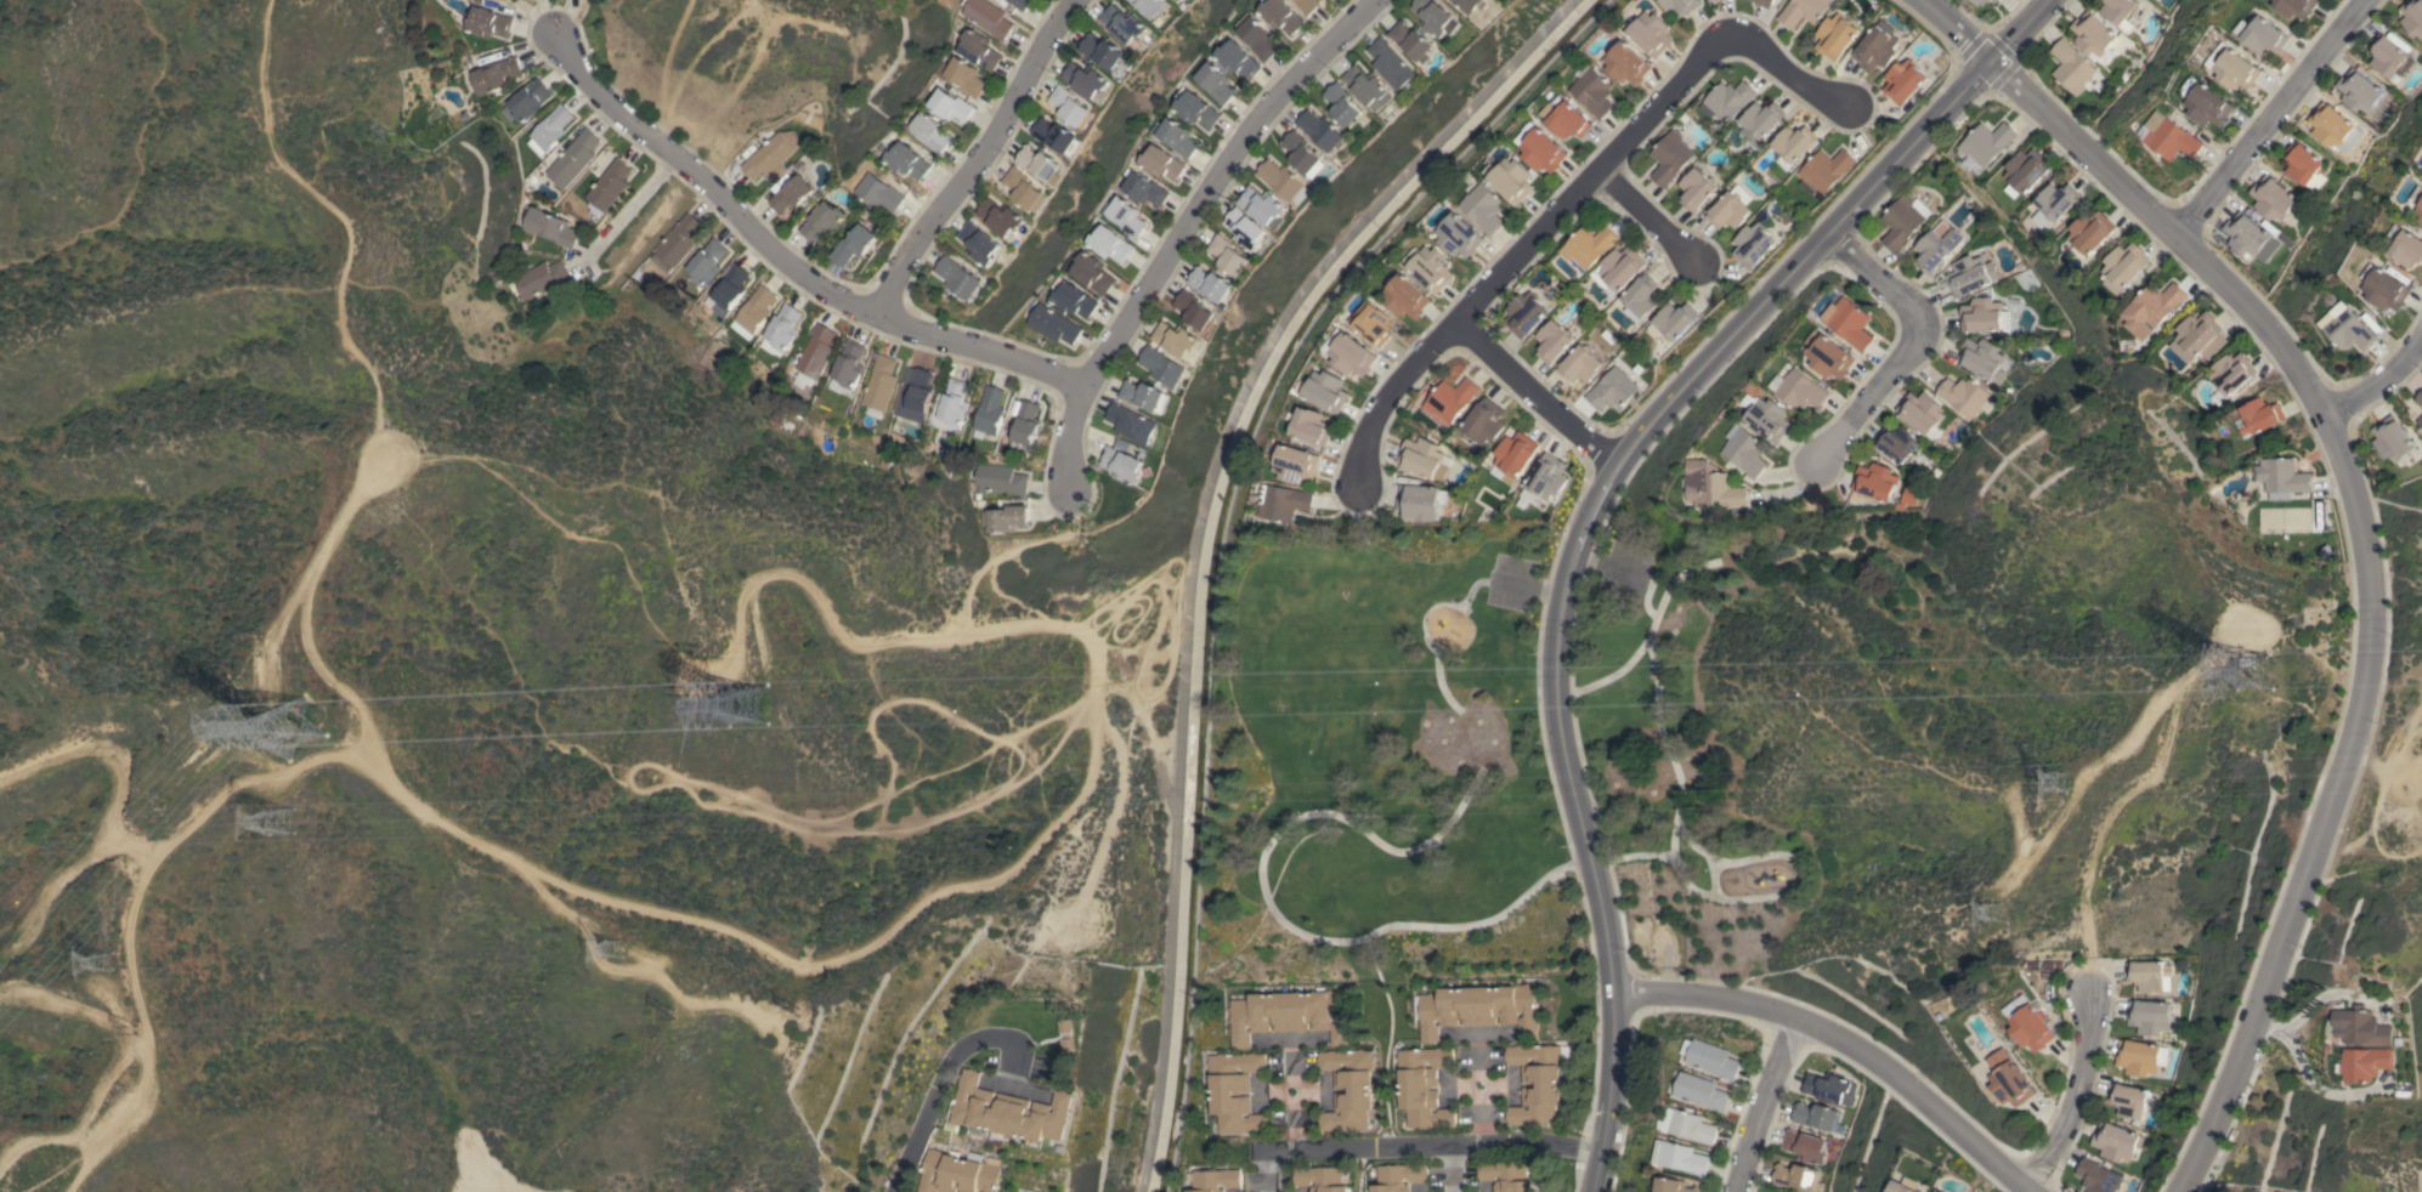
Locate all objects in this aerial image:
building: (1177, 0)
building: (1714, 0)
building: (1986, 0)
building: (1993, 0)
building: (1998, 0)
building: (1977, 1)
building: (1764, 2)
building: (1020, 4)
building: (1307, 5)
building: (1469, 5)
building: (1679, 6)
building: (2297, 7)
building: (1154, 8)
building: (1803, 11)
building: (2120, 12)
building: (1280, 16)
building: (988, 17)
building: (1437, 17)
building: (2412, 17)
building: (487, 22)
power tower: (828, 24)
building: (1125, 24)
road: (1958, 29)
road: (2016, 29)
building: (1651, 34)
building: (1256, 35)
building: (1835, 35)
building: (2095, 35)
building: (2267, 35)
building: (1414, 40)
building: (1877, 47)
building: (978, 49)
building: (1103, 50)
building: (2389, 57)
building: (1235, 59)
building: (1392, 63)
building: (1626, 63)
building: (2071, 67)
building: (2236, 69)
road: (1787, 72)
building: (497, 74)
building: (960, 75)
building: (1086, 79)
building: (1903, 81)
building: (1215, 83)
building: (1369, 87)
building: (2359, 91)
building: (1594, 92)
building: (528, 100)
building: (1727, 100)
building: (1343, 104)
building: (949, 106)
building: (2209, 106)
building: (1073, 107)
building: (1194, 110)
road: (2270, 115)
building: (1566, 119)
building: (1761, 121)
building: (2333, 127)
building: (549, 129)
building: (1323, 129)
building: (930, 131)
building: (1058, 136)
building: (1177, 137)
building: (2172, 137)
building: (1793, 144)
building: (1986, 146)
building: (1543, 151)
building: (1302, 152)
building: (771, 155)
road: (980, 155)
building: (573, 158)
building: (1670, 158)
building: (906, 161)
building: (1041, 163)
building: (1160, 163)
building: (2303, 166)
building: (1824, 170)
building: (2025, 171)
building: (1511, 180)
building: (1285, 181)
building: (610, 185)
building: (878, 189)
building: (1026, 189)
building: (1144, 189)
building: (1697, 189)
building: (792, 194)
building: (2418, 195)
building: (2271, 198)
building: (2055, 204)
building: (1264, 205)
road: (633, 208)
building: (1484, 208)
building: (2420, 209)
building: (1728, 211)
building: (1002, 216)
building: (1126, 216)
road: (1647, 217)
building: (2421, 220)
building: (822, 221)
building: (1903, 221)
building: (549, 226)
road: (1181, 227)
building: (1247, 228)
building: (2092, 232)
building: (1459, 235)
building: (2248, 237)
building: (680, 239)
building: (980, 243)
building: (1109, 244)
building: (1753, 244)
building: (854, 245)
building: (1589, 245)
building: (1937, 246)
building: (2409, 248)
road: (1518, 250)
building: (1230, 255)
road: (786, 260)
building: (707, 261)
building: (1430, 266)
building: (2126, 266)
building: (1619, 269)
power tower: (593, 272)
building: (1091, 273)
building: (1970, 274)
building: (958, 277)
building: (538, 278)
building: (1212, 283)
building: (728, 290)
building: (2386, 290)
building: (1405, 296)
building: (1642, 297)
building: (1074, 300)
building: (754, 308)
building: (2152, 308)
building: (1196, 310)
building: (1526, 313)
building: (1984, 316)
building: (1374, 323)
building: (1674, 323)
building: (1850, 323)
building: (1053, 324)
building: (2347, 328)
building: (780, 329)
building: (2200, 336)
building: (1177, 339)
building: (1554, 341)
road: (1912, 342)
building: (813, 354)
building: (1353, 354)
building: (1828, 354)
building: (1982, 358)
building: (1580, 364)
building: (847, 367)
building: (1164, 367)
building: (2233, 371)
road: (2378, 381)
building: (879, 385)
road: (1533, 387)
building: (1612, 390)
building: (1801, 390)
building: (1328, 391)
building: (913, 393)
building: (1145, 395)
building: (1964, 396)
building: (1451, 398)
building: (2418, 398)
building: (950, 407)
building: (989, 411)
building: (1920, 411)
building: (2260, 415)
building: (1771, 419)
building: (1484, 421)
building: (2418, 421)
building: (1026, 424)
building: (1133, 424)
building: (1312, 426)
building: (2390, 439)
building: (1896, 443)
building: (1748, 452)
building: (1515, 455)
building: (1424, 458)
road: (1609, 460)
building: (1124, 461)
building: (1296, 464)
building: (1501, 475)
building: (2281, 477)
building: (997, 479)
building: (1545, 481)
building: (1875, 481)
building: (1716, 487)
building: (1906, 498)
building: (1284, 501)
building: (1422, 501)
building: (1005, 518)
road: (1006, 549)
road: (2371, 572)
road: (2209, 658)
power tower: (2252, 680)
power tower: (237, 683)
power tower: (751, 706)
power tower: (281, 717)
road: (2169, 723)
road: (1307, 748)
park: (1675, 755)
park: (1385, 760)
power tower: (2064, 784)
power tower: (284, 823)
road: (1541, 873)
power tower: (2005, 906)
power tower: (607, 946)
road: (867, 946)
power tower: (104, 957)
building: (2147, 975)
road: (2324, 995)
building: (1479, 1009)
building: (1290, 1014)
building: (2149, 1016)
building: (2358, 1026)
building: (2032, 1027)
building: (1068, 1034)
road: (1386, 1038)
road: (1845, 1044)
building: (2137, 1056)
road: (1478, 1057)
building: (1714, 1060)
building: (2362, 1063)
road: (1292, 1073)
road: (941, 1074)
road: (2307, 1078)
building: (2010, 1079)
road: (1479, 1080)
building: (1535, 1083)
building: (1424, 1086)
road: (1292, 1088)
building: (1829, 1088)
building: (1348, 1089)
building: (1701, 1090)
building: (1235, 1091)
road: (1612, 1095)
road: (2073, 1095)
building: (2128, 1100)
road: (1767, 1105)
building: (1009, 1111)
building: (1815, 1116)
road: (1482, 1120)
road: (1292, 1124)
building: (1690, 1125)
building: (2116, 1141)
road: (1415, 1145)
building: (1804, 1146)
building: (1681, 1157)
road: (1451, 1167)
building: (958, 1173)
building: (1505, 1175)
building: (1398, 1176)
building: (2096, 1176)
building: (1795, 1177)
building: (1320, 1179)
building: (1213, 1180)
building: (1675, 1186)
building: (1902, 1187)
building: (1002, 1191)
building: (1006, 1191)
road: (1451, 1191)
building: (1936, 1191)
building: (1941, 1191)

